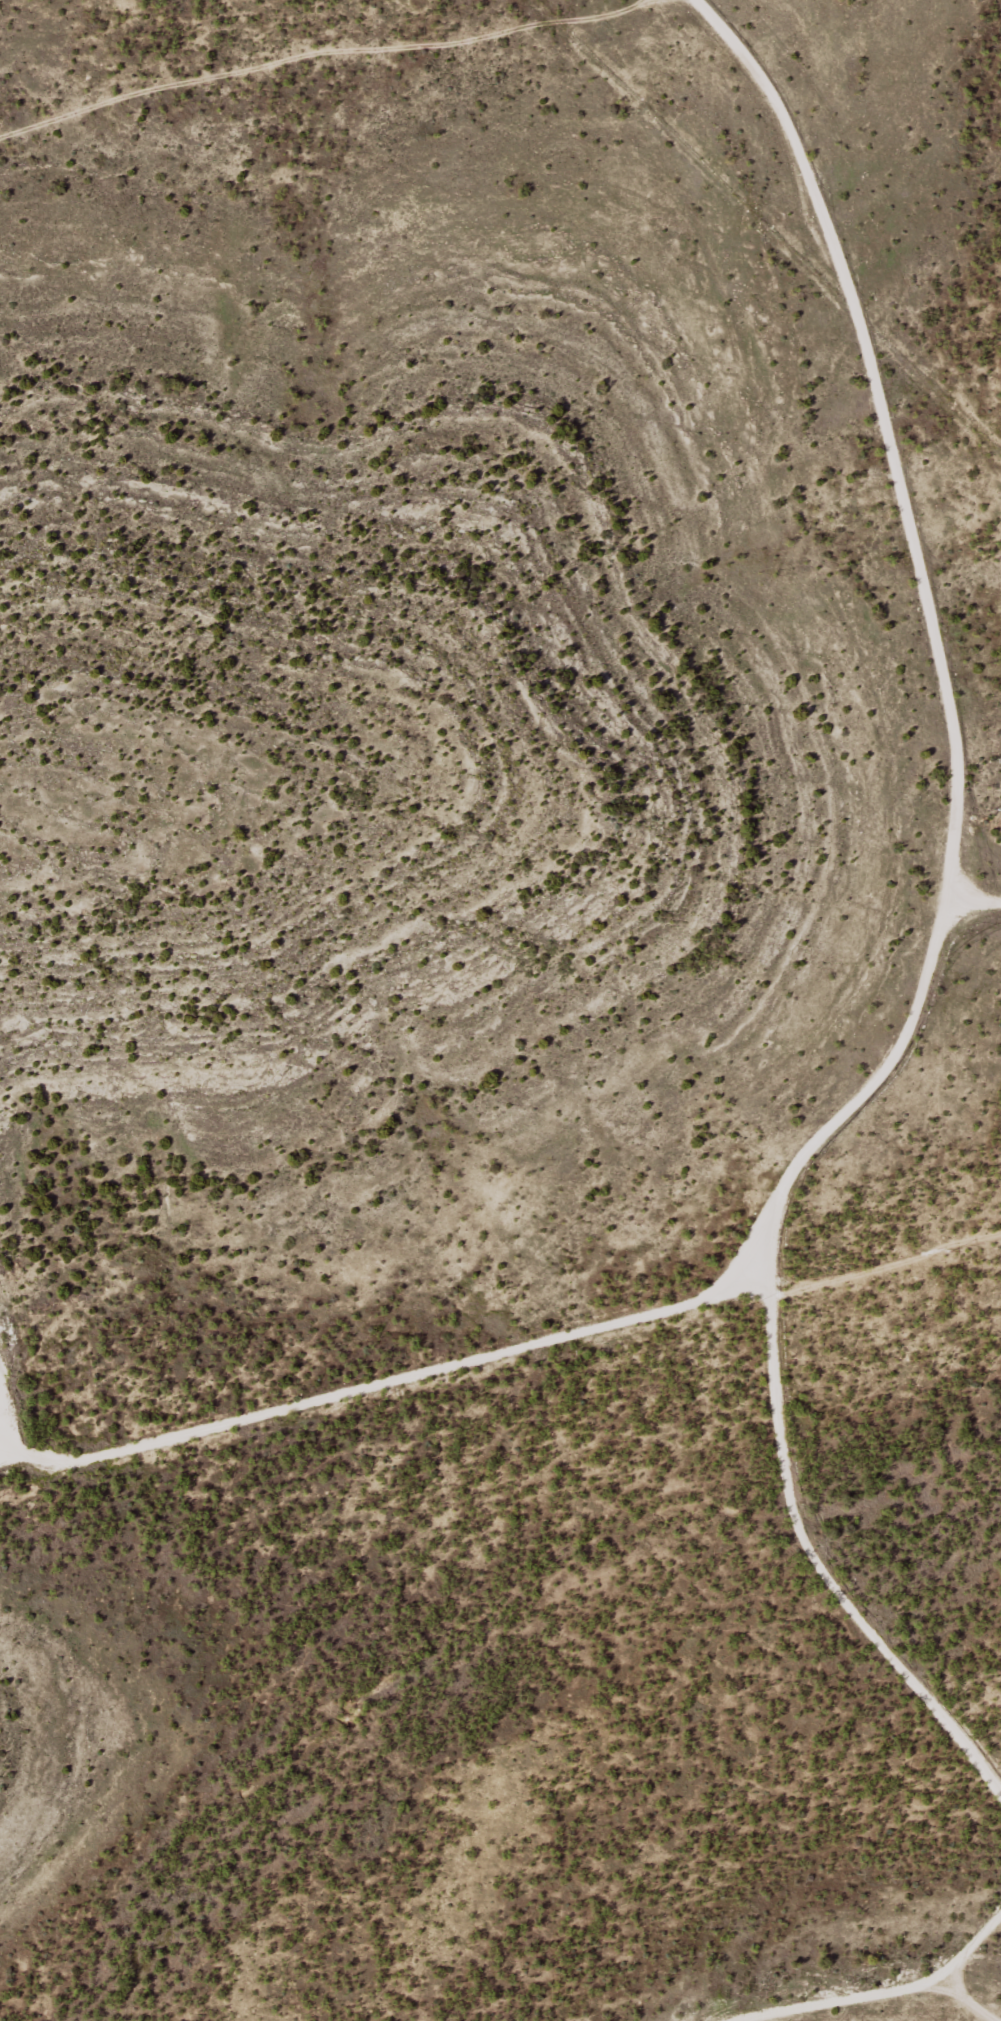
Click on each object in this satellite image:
road: (899, 202)
road: (805, 1493)

